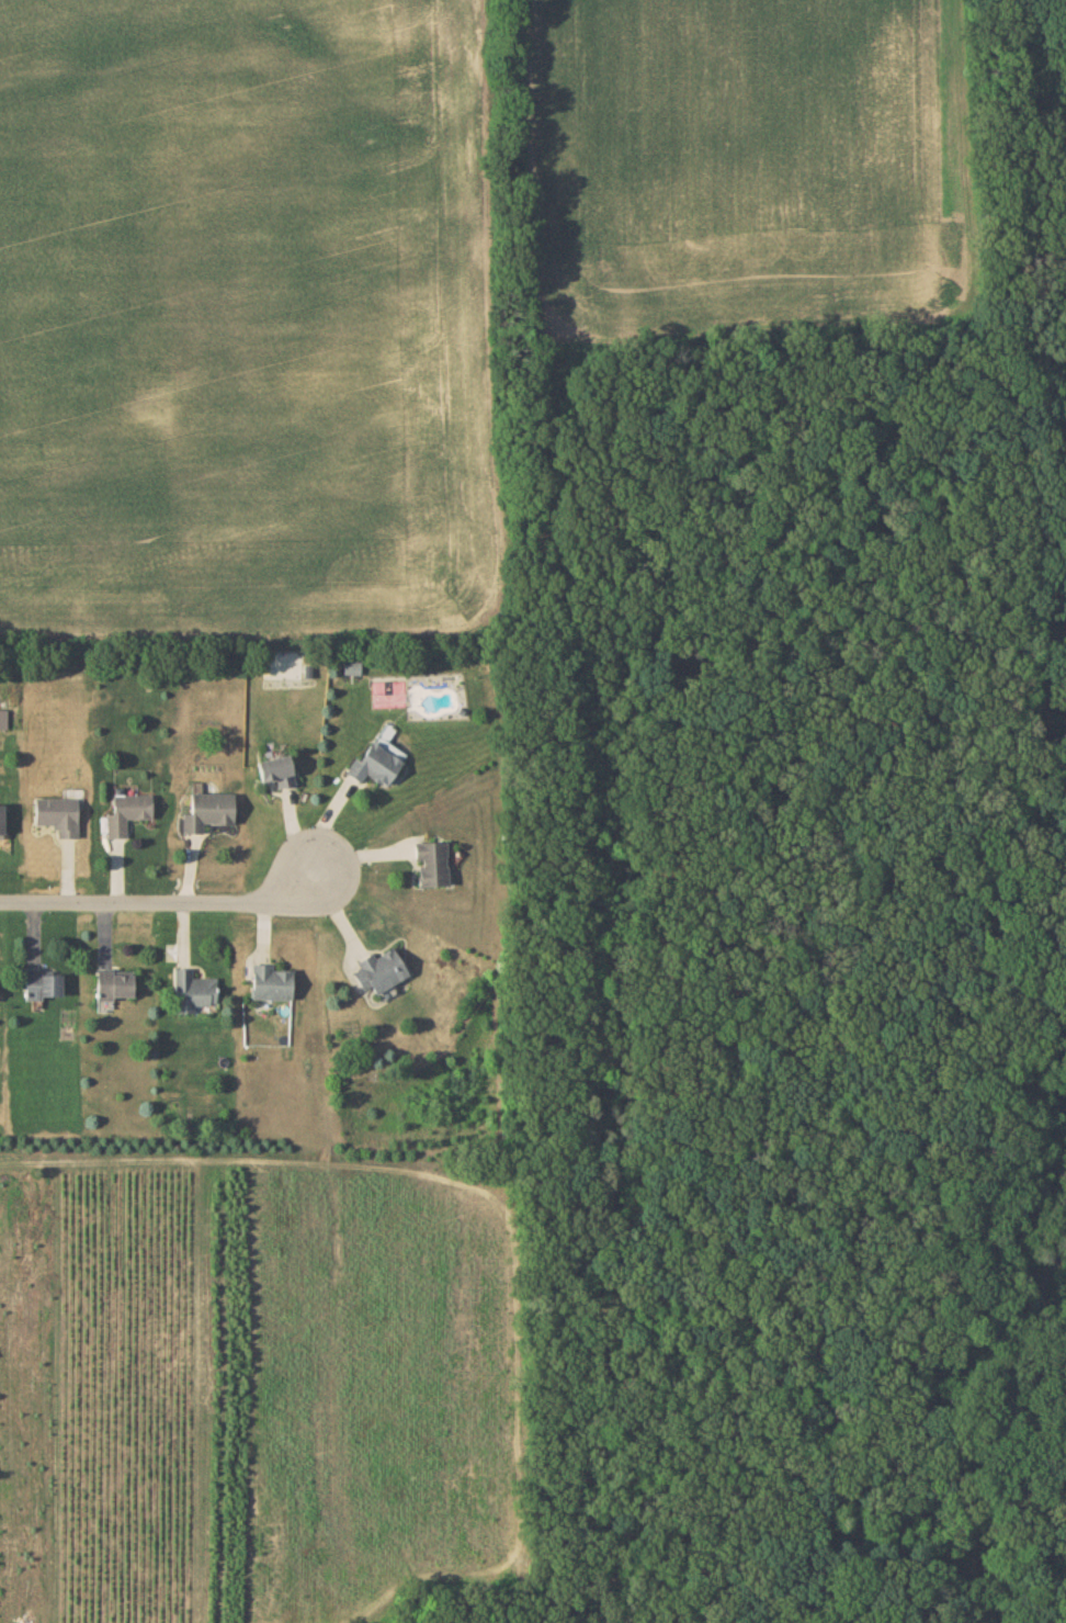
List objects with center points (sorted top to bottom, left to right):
building: (352, 666)
building: (377, 758)
building: (276, 770)
building: (207, 810)
building: (127, 812)
building: (57, 814)
building: (1, 820)
building: (432, 863)
road: (161, 904)
building: (379, 970)
building: (271, 982)
building: (41, 983)
building: (112, 985)
building: (191, 990)
road: (92, 1158)

